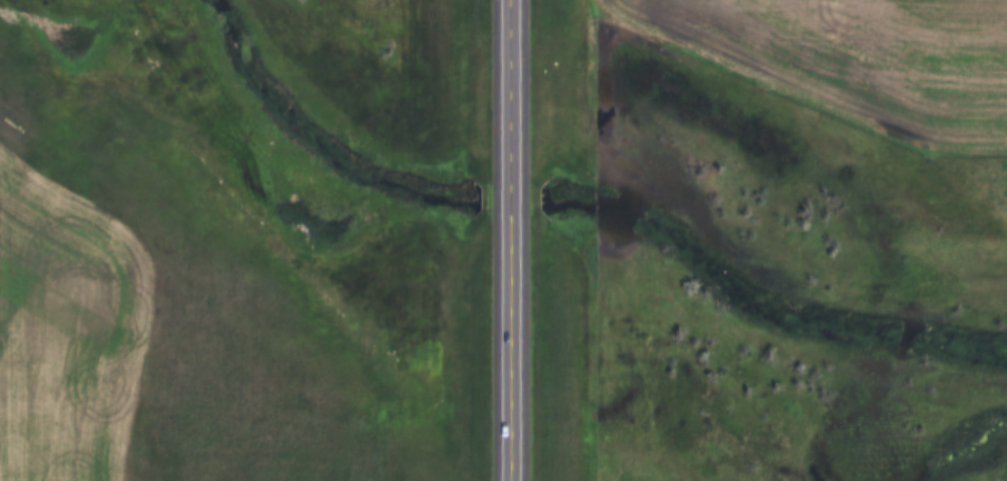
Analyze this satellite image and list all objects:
road: (513, 240)

